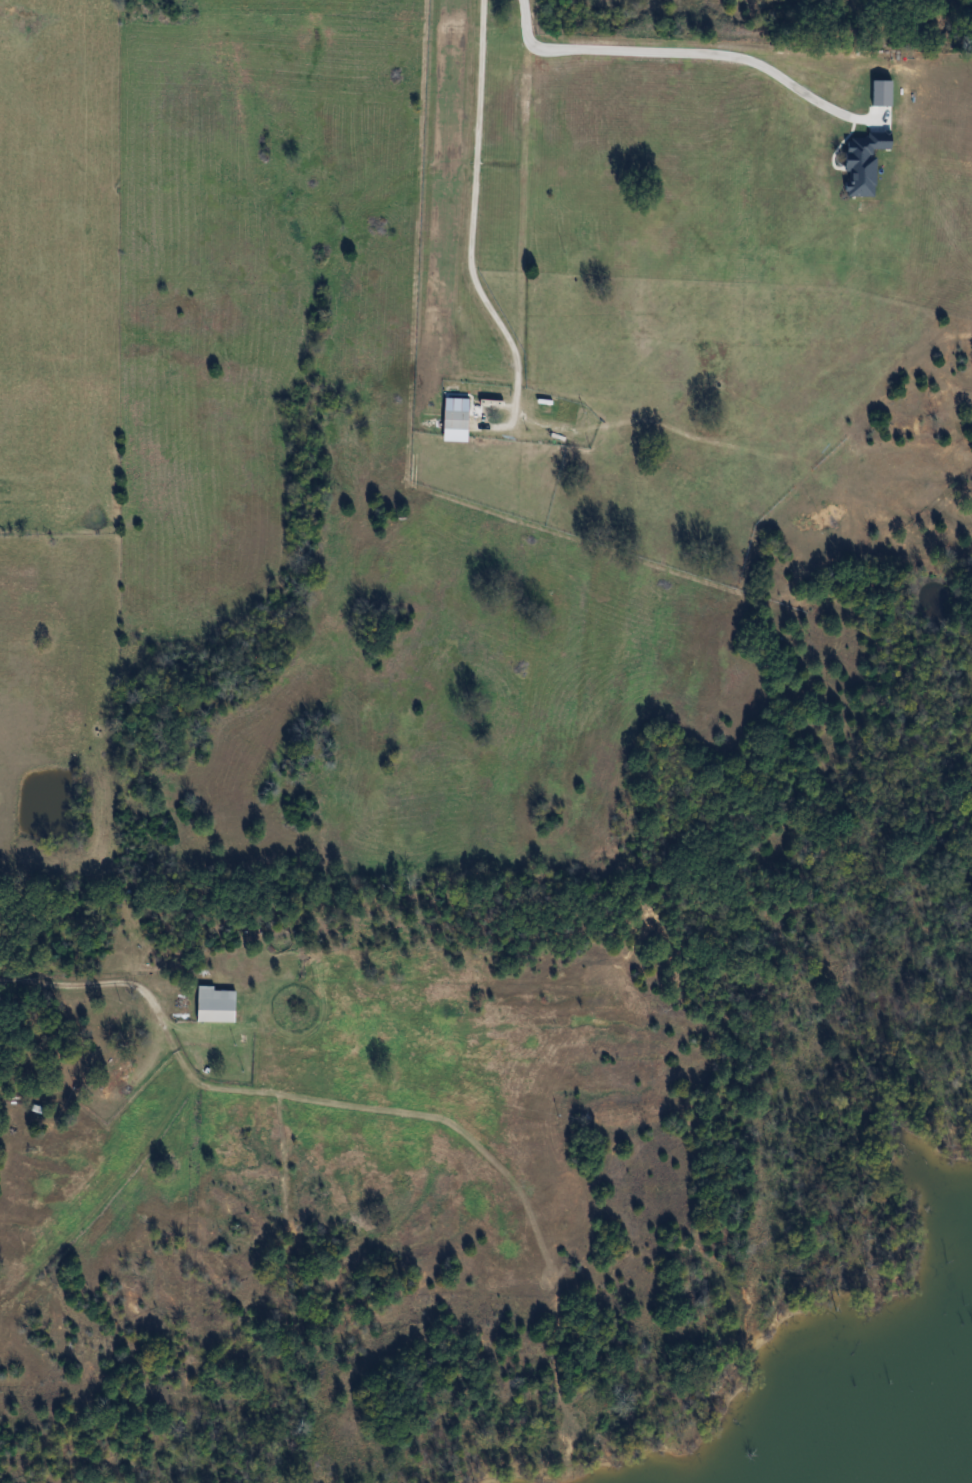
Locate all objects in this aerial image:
building: (6, 12)
road: (677, 51)
road: (475, 219)
building: (454, 420)
road: (90, 983)
building: (214, 1005)
building: (115, 1078)

